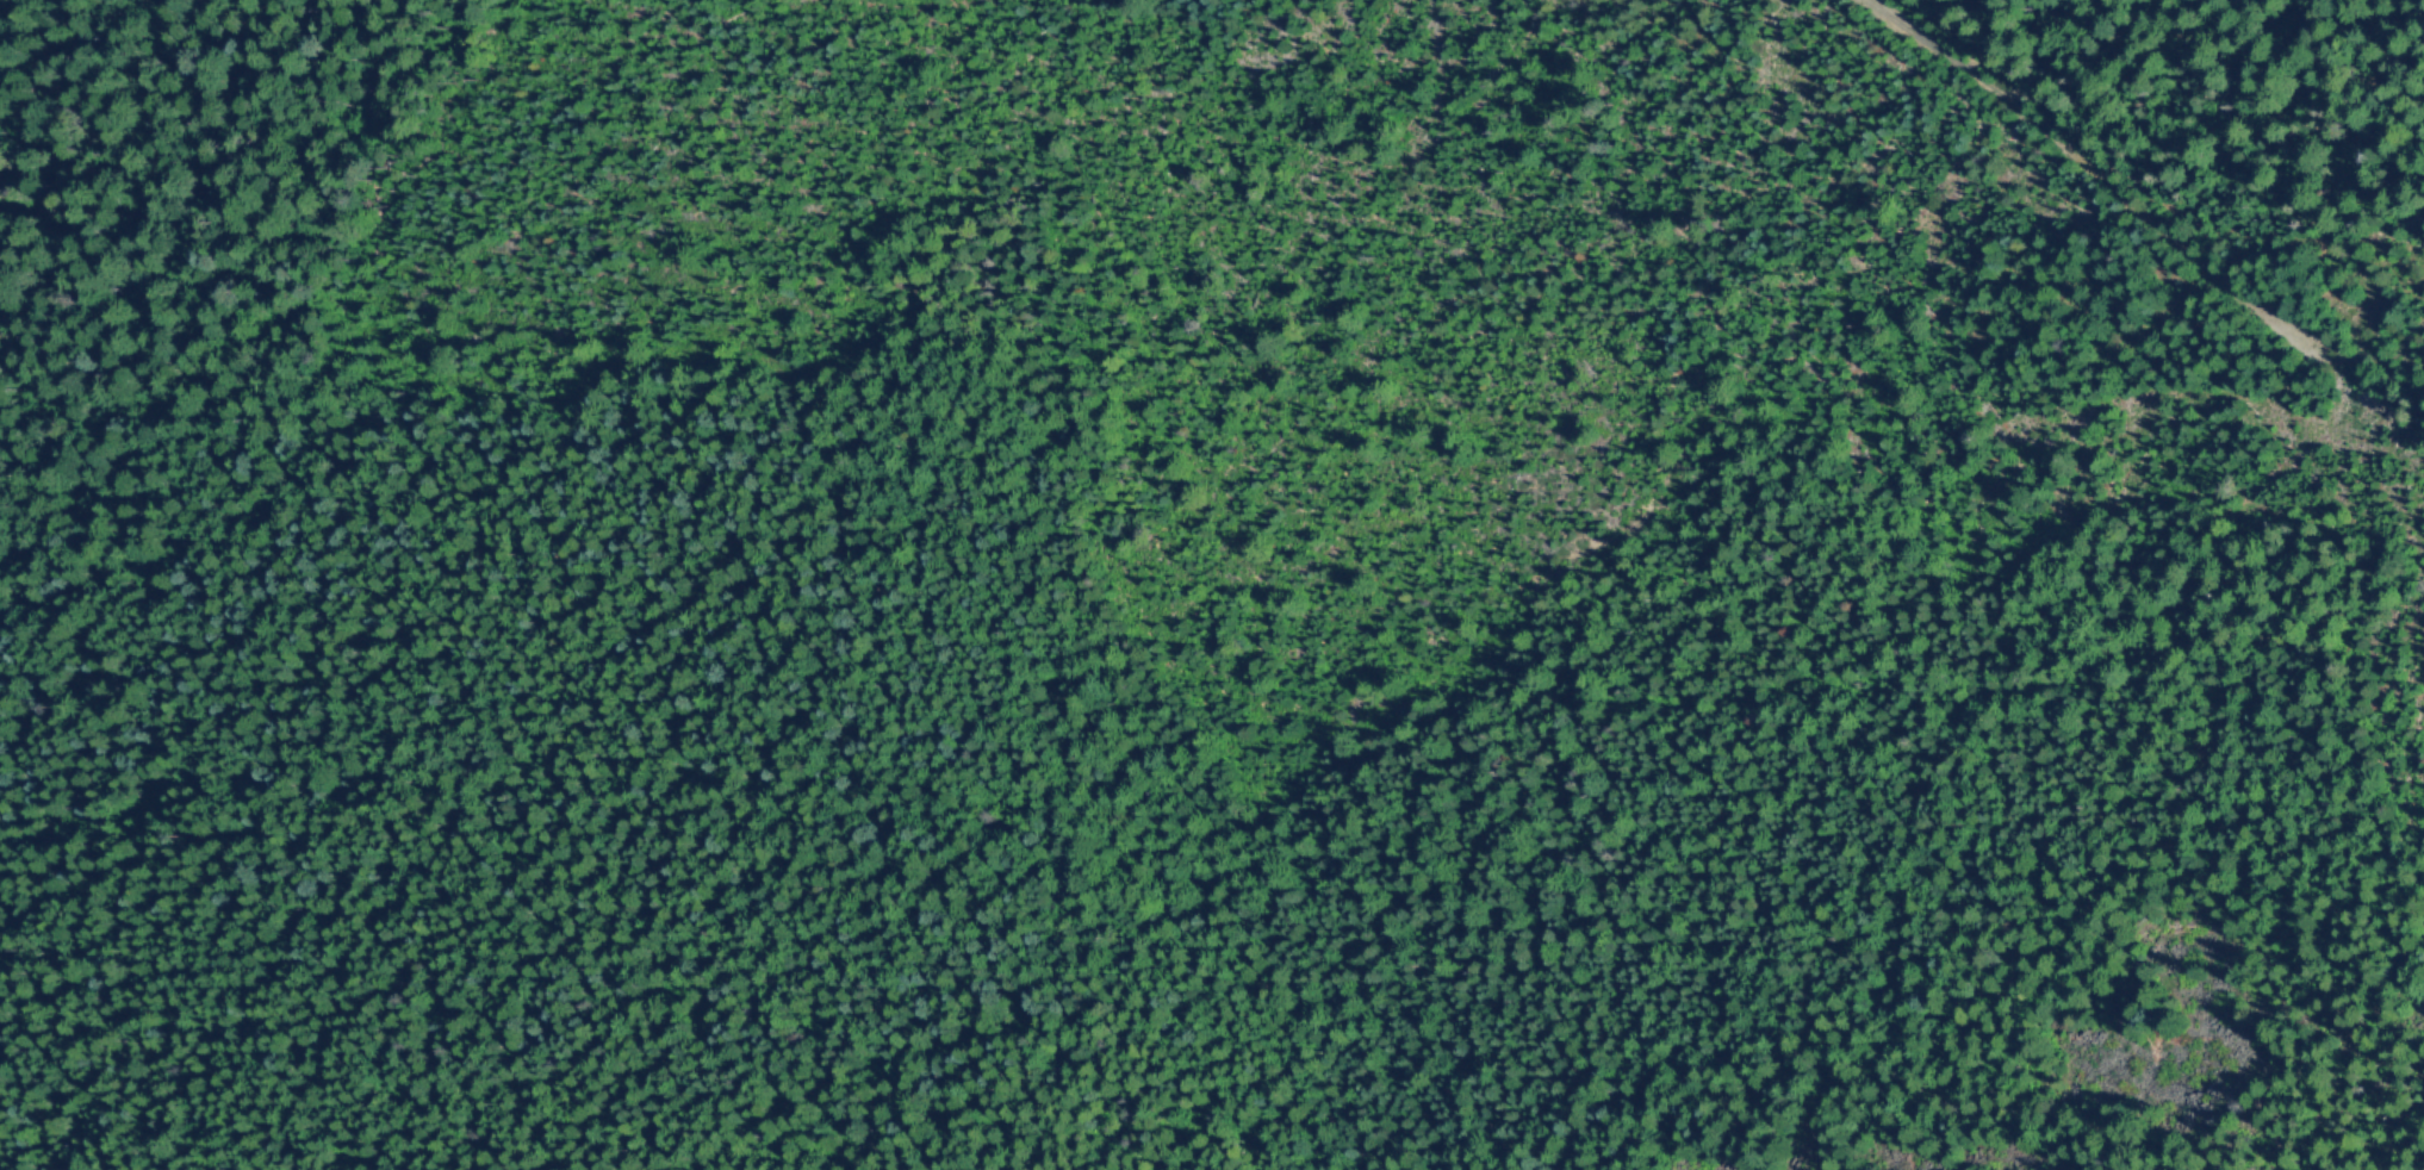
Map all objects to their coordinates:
road: (2087, 169)

